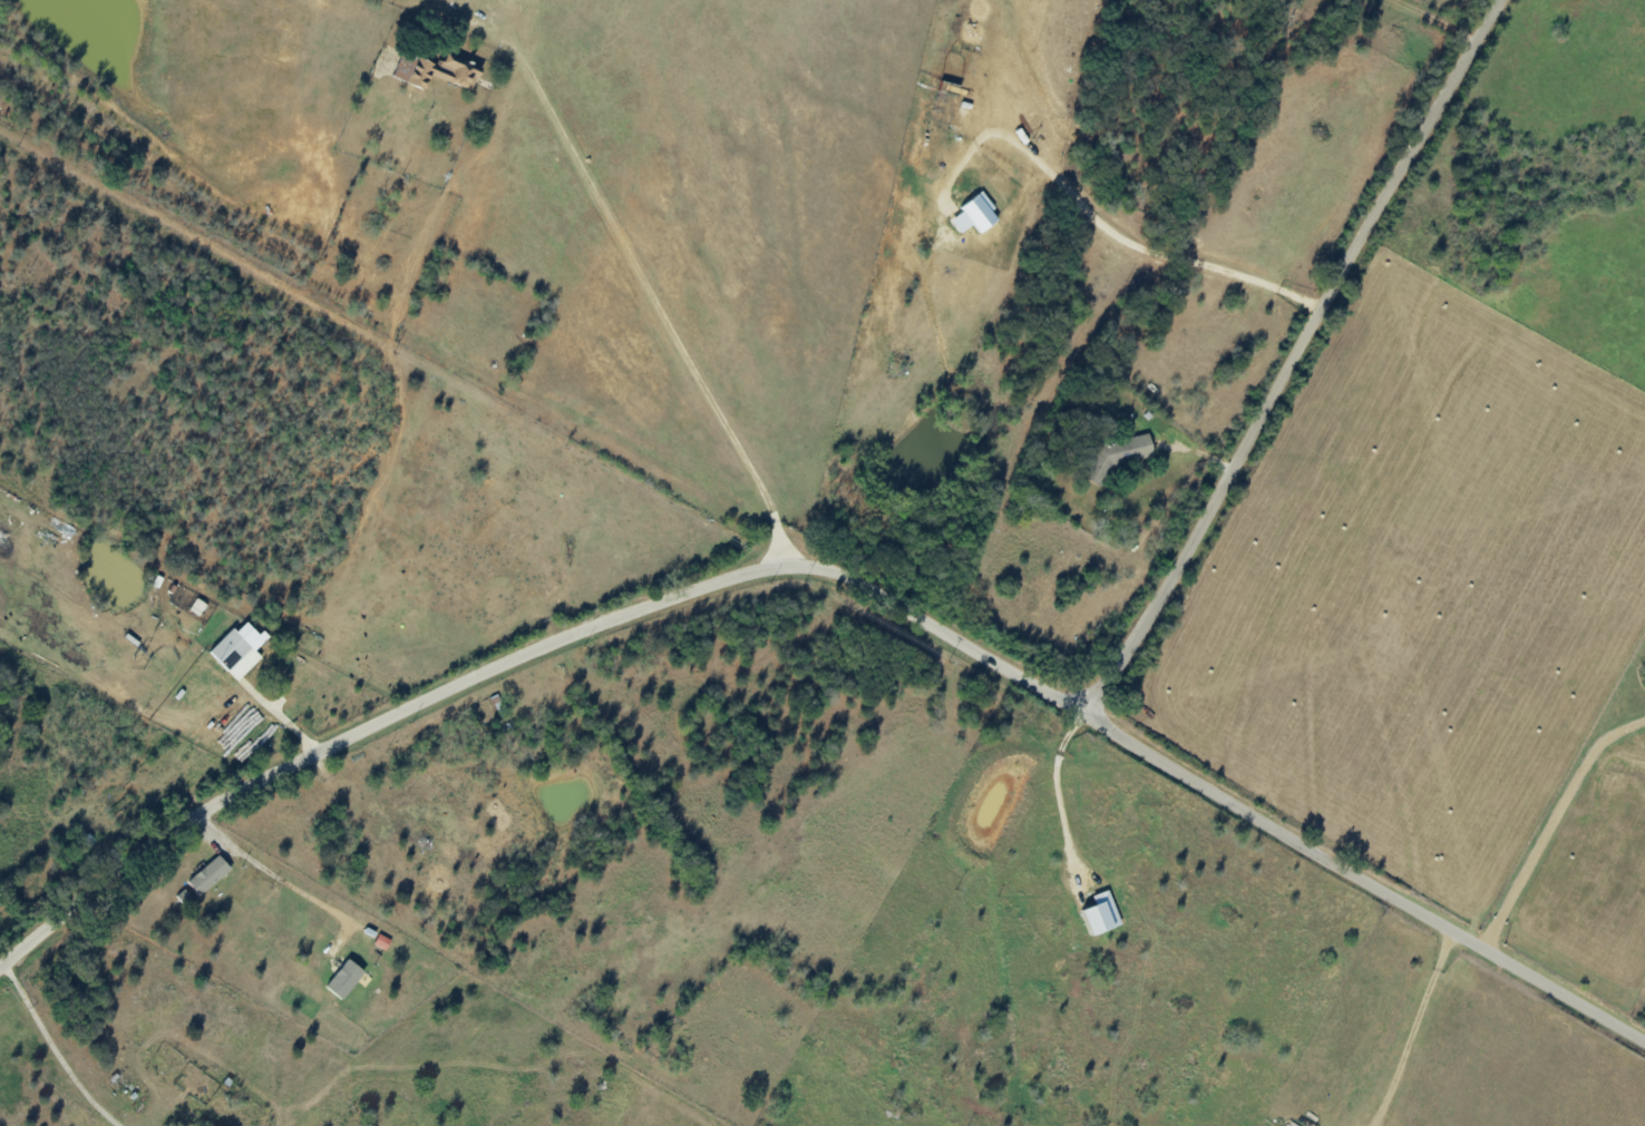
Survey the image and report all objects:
building: (436, 70)
building: (976, 214)
road: (1116, 247)
road: (690, 320)
road: (1300, 368)
building: (1118, 456)
road: (759, 561)
building: (198, 606)
building: (235, 654)
road: (379, 725)
road: (1224, 809)
road: (1034, 826)
road: (1550, 833)
road: (275, 870)
building: (210, 875)
building: (1102, 914)
building: (345, 979)
road: (1417, 1035)
road: (49, 1050)

